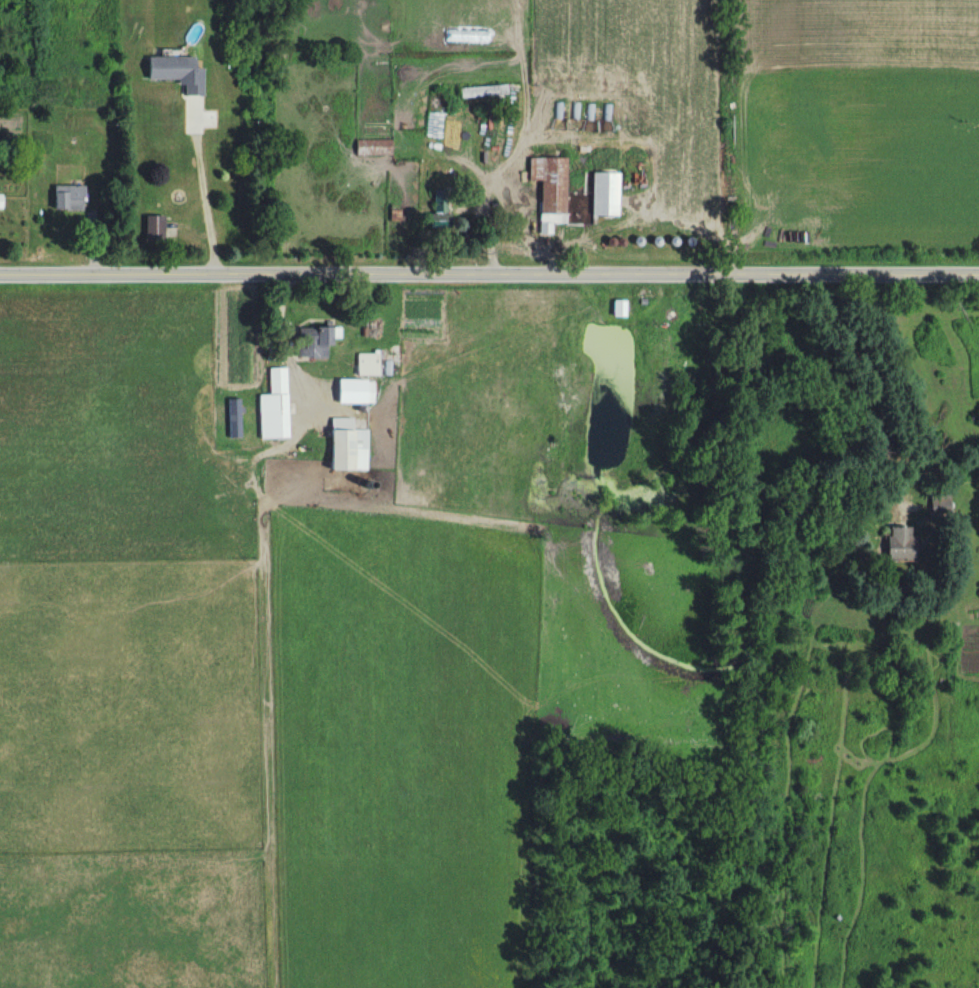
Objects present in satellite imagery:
building: (177, 72)
building: (486, 91)
building: (552, 190)
building: (608, 195)
building: (71, 198)
building: (2, 205)
building: (156, 228)
road: (489, 272)
building: (619, 309)
building: (327, 341)
building: (370, 365)
building: (359, 393)
building: (274, 408)
building: (350, 445)
building: (941, 501)
building: (905, 545)

